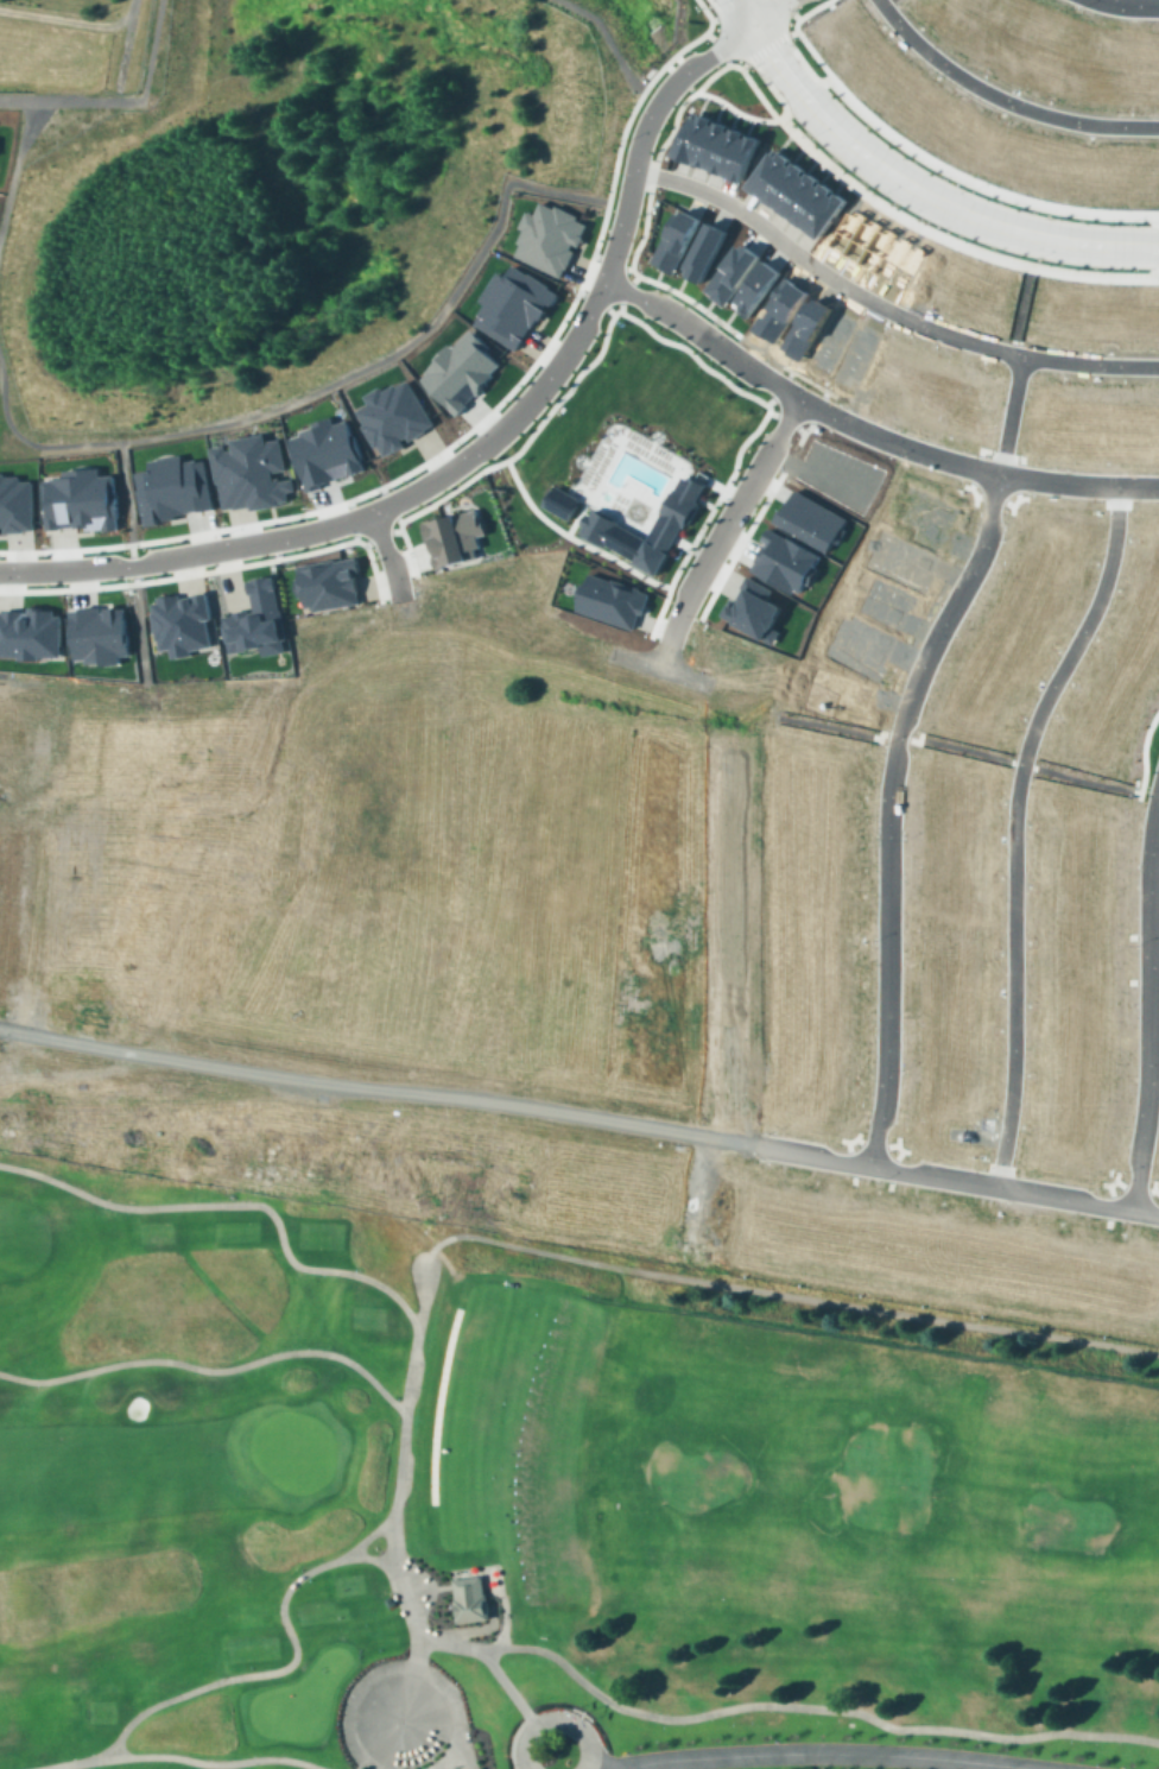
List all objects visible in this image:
road: (1133, 4)
road: (787, 5)
street lamp: (709, 6)
road: (729, 7)
road: (811, 7)
road: (794, 13)
road: (714, 17)
road: (72, 18)
road: (1101, 19)
road: (796, 21)
road: (773, 24)
road: (749, 25)
road: (791, 31)
road: (710, 34)
road: (615, 45)
road: (766, 45)
road: (721, 46)
road: (126, 48)
road: (815, 55)
road: (727, 59)
road: (749, 61)
road: (745, 63)
road: (807, 70)
road: (705, 78)
road: (645, 87)
road: (1001, 99)
road: (120, 100)
road: (735, 107)
building: (717, 145)
road: (636, 152)
road: (14, 162)
road: (975, 182)
road: (908, 187)
building: (799, 192)
road: (616, 201)
road: (895, 210)
road: (1153, 213)
road: (1152, 220)
road: (644, 229)
building: (549, 234)
building: (678, 239)
building: (879, 246)
building: (707, 251)
road: (612, 258)
road: (1082, 271)
road: (1148, 271)
building: (733, 272)
road: (1148, 279)
building: (758, 286)
building: (968, 288)
road: (629, 292)
road: (597, 299)
building: (512, 303)
road: (881, 305)
building: (781, 309)
road: (1020, 309)
building: (1071, 312)
building: (1136, 317)
building: (807, 327)
building: (831, 339)
road: (404, 345)
building: (854, 355)
building: (885, 364)
building: (464, 371)
building: (908, 377)
building: (936, 385)
road: (779, 386)
road: (745, 392)
building: (961, 396)
building: (988, 399)
road: (819, 409)
building: (1043, 413)
building: (393, 415)
road: (1009, 416)
building: (1077, 417)
road: (885, 418)
road: (784, 419)
building: (1110, 419)
building: (1140, 419)
road: (862, 434)
road: (24, 438)
building: (327, 455)
road: (432, 455)
road: (667, 465)
park: (619, 468)
building: (249, 469)
road: (978, 470)
building: (831, 474)
road: (1021, 480)
road: (959, 484)
building: (172, 489)
road: (125, 491)
road: (993, 498)
building: (81, 500)
building: (562, 500)
road: (391, 503)
building: (15, 505)
building: (927, 512)
building: (674, 514)
road: (350, 517)
building: (810, 517)
road: (354, 518)
road: (571, 525)
building: (1148, 527)
road: (560, 530)
building: (1063, 531)
building: (452, 535)
road: (382, 536)
road: (65, 549)
building: (1148, 552)
road: (279, 556)
building: (783, 560)
building: (900, 560)
road: (132, 562)
building: (1052, 566)
building: (327, 581)
building: (1146, 582)
road: (66, 587)
building: (612, 599)
building: (883, 599)
building: (756, 606)
building: (1141, 609)
building: (1030, 611)
building: (254, 619)
building: (178, 624)
building: (30, 632)
building: (97, 633)
building: (1136, 640)
building: (857, 643)
building: (1007, 643)
building: (1125, 668)
road: (528, 676)
building: (994, 677)
road: (401, 682)
road: (190, 686)
road: (144, 687)
road: (655, 687)
building: (1113, 689)
building: (840, 693)
road: (1158, 710)
road: (775, 715)
road: (898, 735)
road: (648, 745)
road: (965, 748)
road: (1021, 762)
building: (829, 763)
road: (1084, 778)
road: (133, 792)
road: (400, 798)
road: (525, 803)
building: (1072, 807)
road: (887, 809)
building: (818, 816)
road: (199, 825)
road: (1013, 826)
road: (384, 827)
road: (375, 828)
road: (399, 828)
road: (417, 828)
road: (373, 834)
building: (1078, 849)
road: (376, 851)
building: (821, 865)
road: (373, 866)
road: (400, 874)
road: (417, 874)
road: (384, 876)
building: (1142, 884)
road: (107, 908)
building: (819, 916)
road: (1138, 935)
building: (965, 942)
building: (825, 955)
road: (1153, 959)
road: (1138, 980)
road: (1147, 1000)
building: (818, 1004)
road: (381, 1026)
building: (824, 1050)
road: (66, 1059)
road: (382, 1064)
road: (414, 1067)
road: (397, 1069)
road: (372, 1074)
road: (425, 1078)
road: (1152, 1082)
road: (526, 1085)
road: (901, 1088)
road: (373, 1089)
road: (267, 1093)
road: (423, 1093)
building: (812, 1100)
road: (644, 1101)
road: (373, 1104)
road: (422, 1107)
road: (579, 1113)
road: (622, 1119)
road: (667, 1119)
road: (664, 1137)
road: (874, 1145)
road: (392, 1151)
road: (851, 1158)
road: (761, 1164)
road: (891, 1165)
road: (1120, 1182)
road: (1152, 1187)
road: (1148, 1188)
road: (1109, 1189)
road: (1134, 1190)
road: (1110, 1205)
building: (780, 1215)
road: (1108, 1219)
building: (837, 1226)
road: (412, 1234)
building: (899, 1236)
road: (444, 1237)
building: (962, 1244)
road: (452, 1272)
road: (368, 1277)
road: (774, 1290)
road: (420, 1300)
road: (211, 1367)
road: (438, 1403)
park: (541, 1505)
road: (368, 1533)
building: (469, 1597)
road: (487, 1661)
road: (399, 1664)
road: (284, 1666)
road: (810, 1706)
road: (556, 1718)
road: (513, 1739)
road: (822, 1754)
road: (72, 1761)
road: (220, 1762)
road: (363, 1767)

